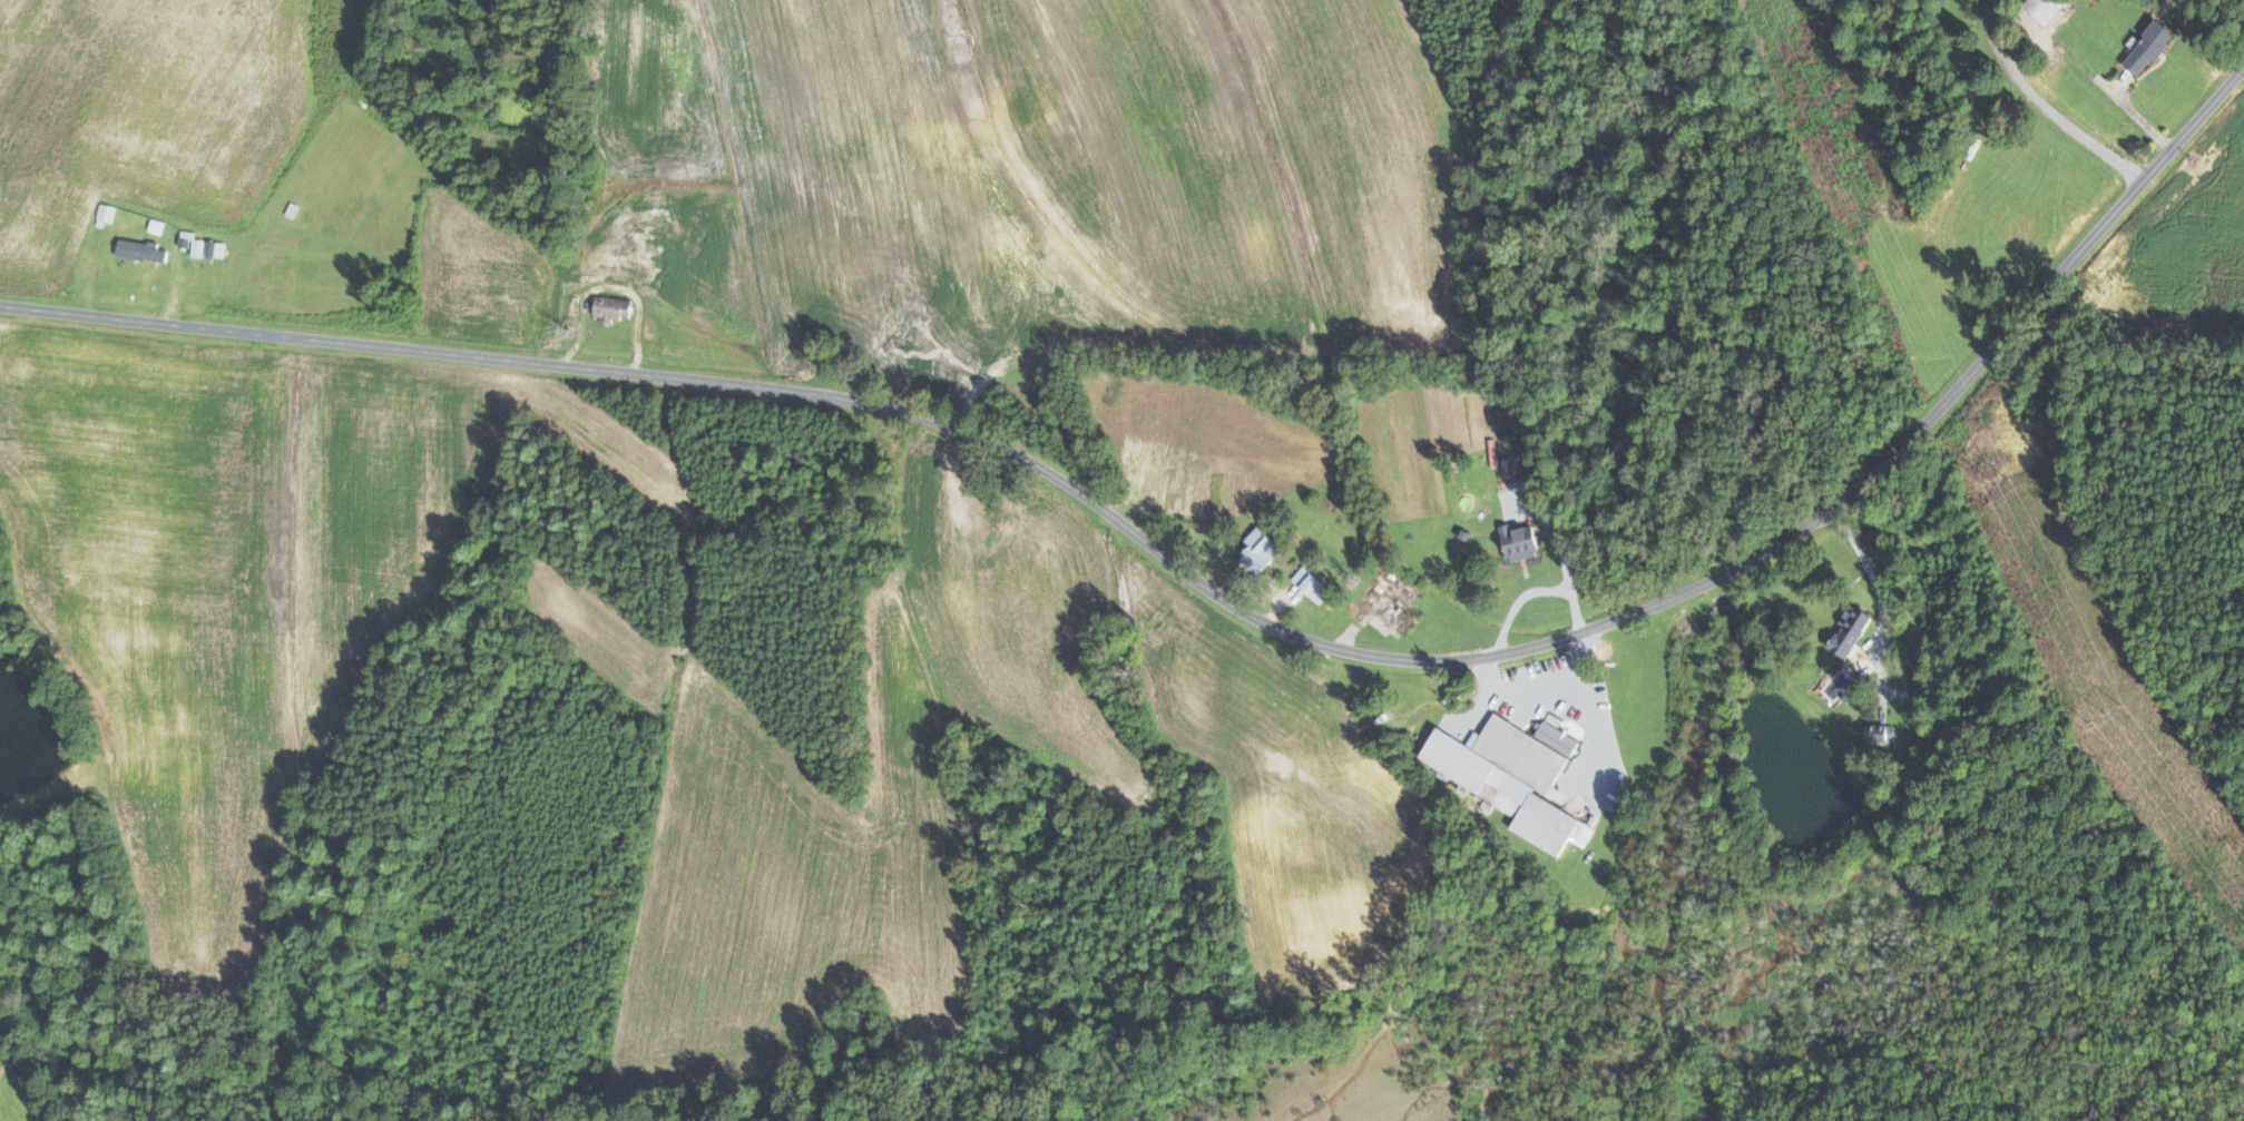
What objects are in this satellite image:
building: (2048, 9)
building: (2152, 48)
road: (2046, 105)
building: (107, 215)
building: (203, 246)
building: (141, 250)
building: (595, 269)
building: (614, 308)
road: (2049, 429)
power tower: (2002, 481)
building: (1521, 543)
building: (1262, 551)
road: (1565, 563)
road: (1871, 573)
building: (1313, 584)
road: (1533, 590)
road: (1213, 599)
building: (1853, 631)
power tower: (2113, 715)
building: (1881, 734)
building: (1513, 778)

